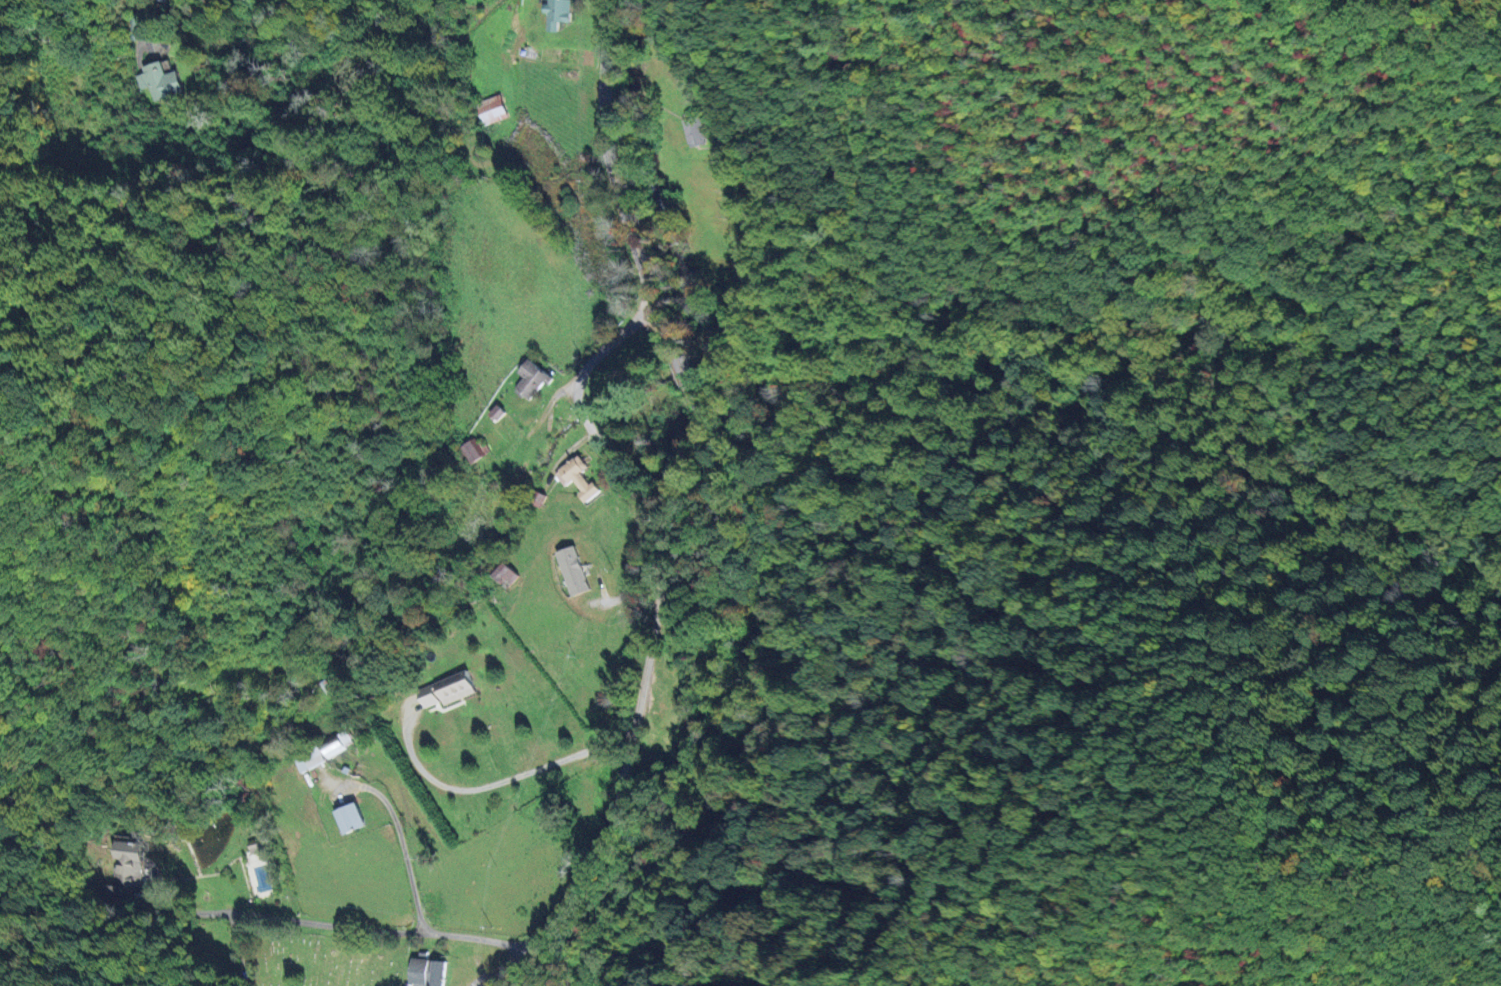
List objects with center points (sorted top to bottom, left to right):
building: (163, 0)
building: (554, 13)
road: (139, 29)
building: (158, 82)
building: (490, 110)
building: (693, 131)
building: (529, 379)
building: (471, 450)
building: (575, 478)
road: (717, 509)
building: (571, 571)
building: (504, 574)
road: (650, 643)
building: (445, 691)
building: (322, 752)
road: (499, 778)
building: (347, 818)
building: (254, 848)
road: (403, 850)
building: (127, 863)
road: (375, 927)
park: (322, 959)
building: (428, 972)

